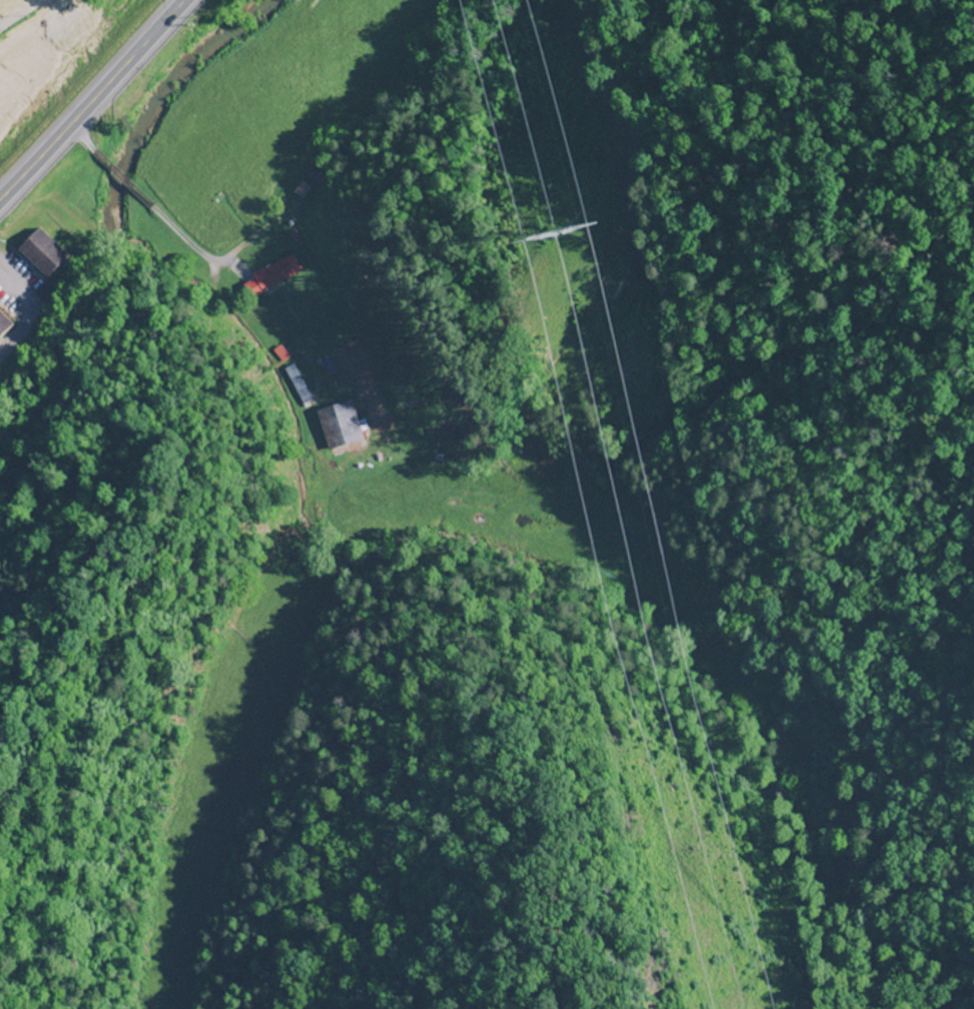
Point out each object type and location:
road: (19, 13)
road: (94, 101)
building: (307, 180)
road: (146, 200)
building: (40, 252)
power tower: (556, 259)
building: (269, 275)
building: (44, 291)
road: (25, 310)
building: (3, 324)
building: (336, 424)

